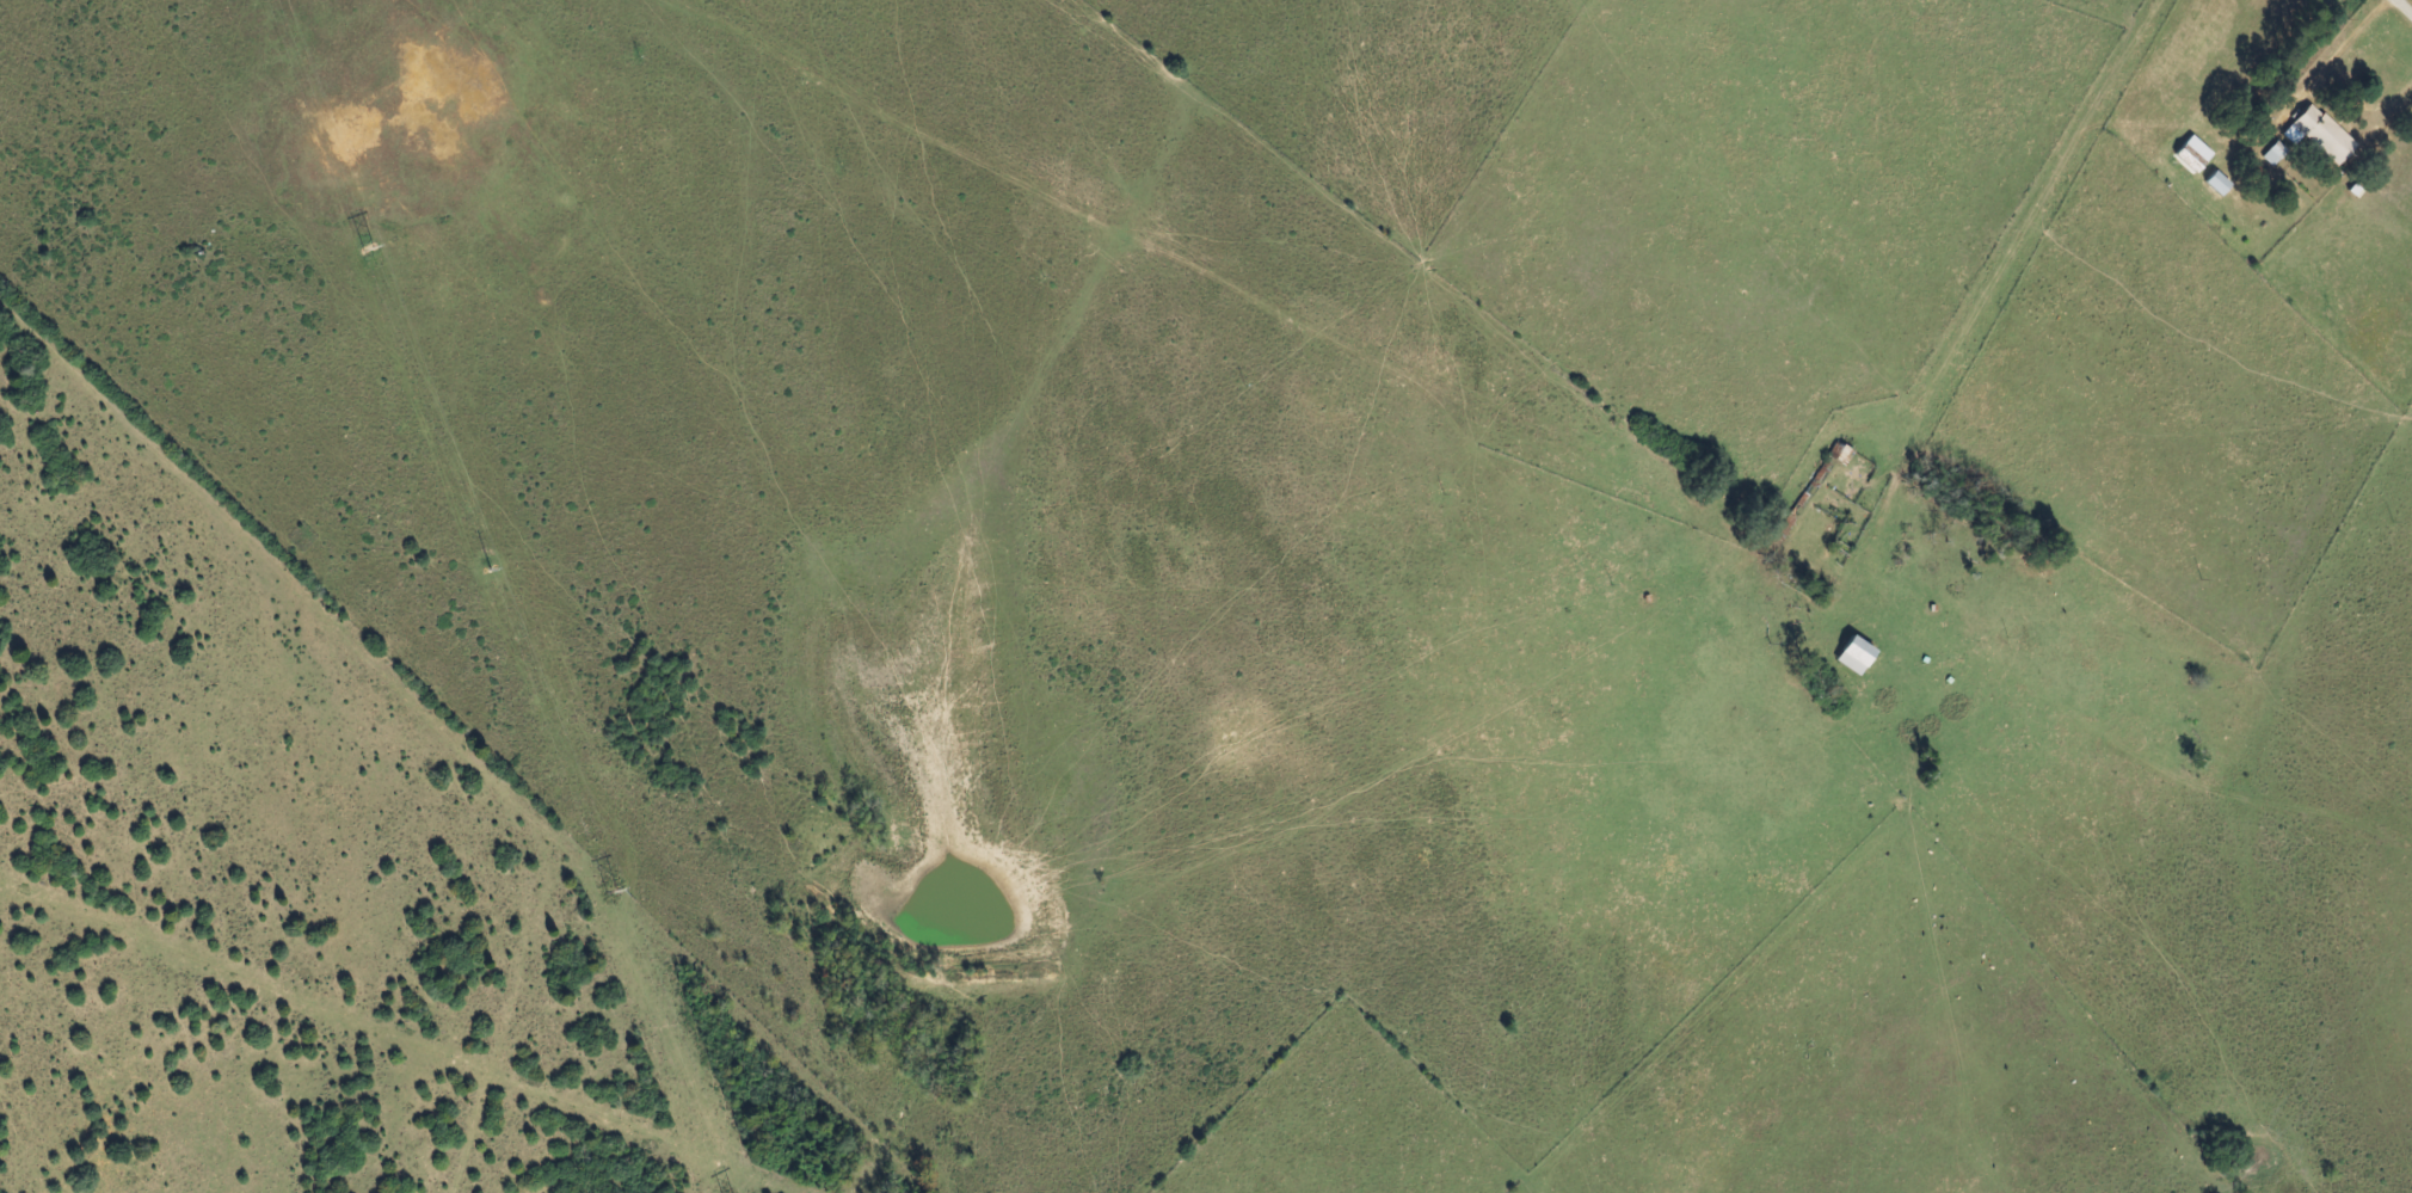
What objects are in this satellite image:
road: (2404, 7)
road: (2340, 50)
building: (2321, 136)
building: (2195, 155)
building: (2276, 155)
building: (2220, 184)
road: (2030, 208)
power tower: (356, 245)
power tower: (476, 565)
building: (1857, 656)
power tower: (604, 893)

